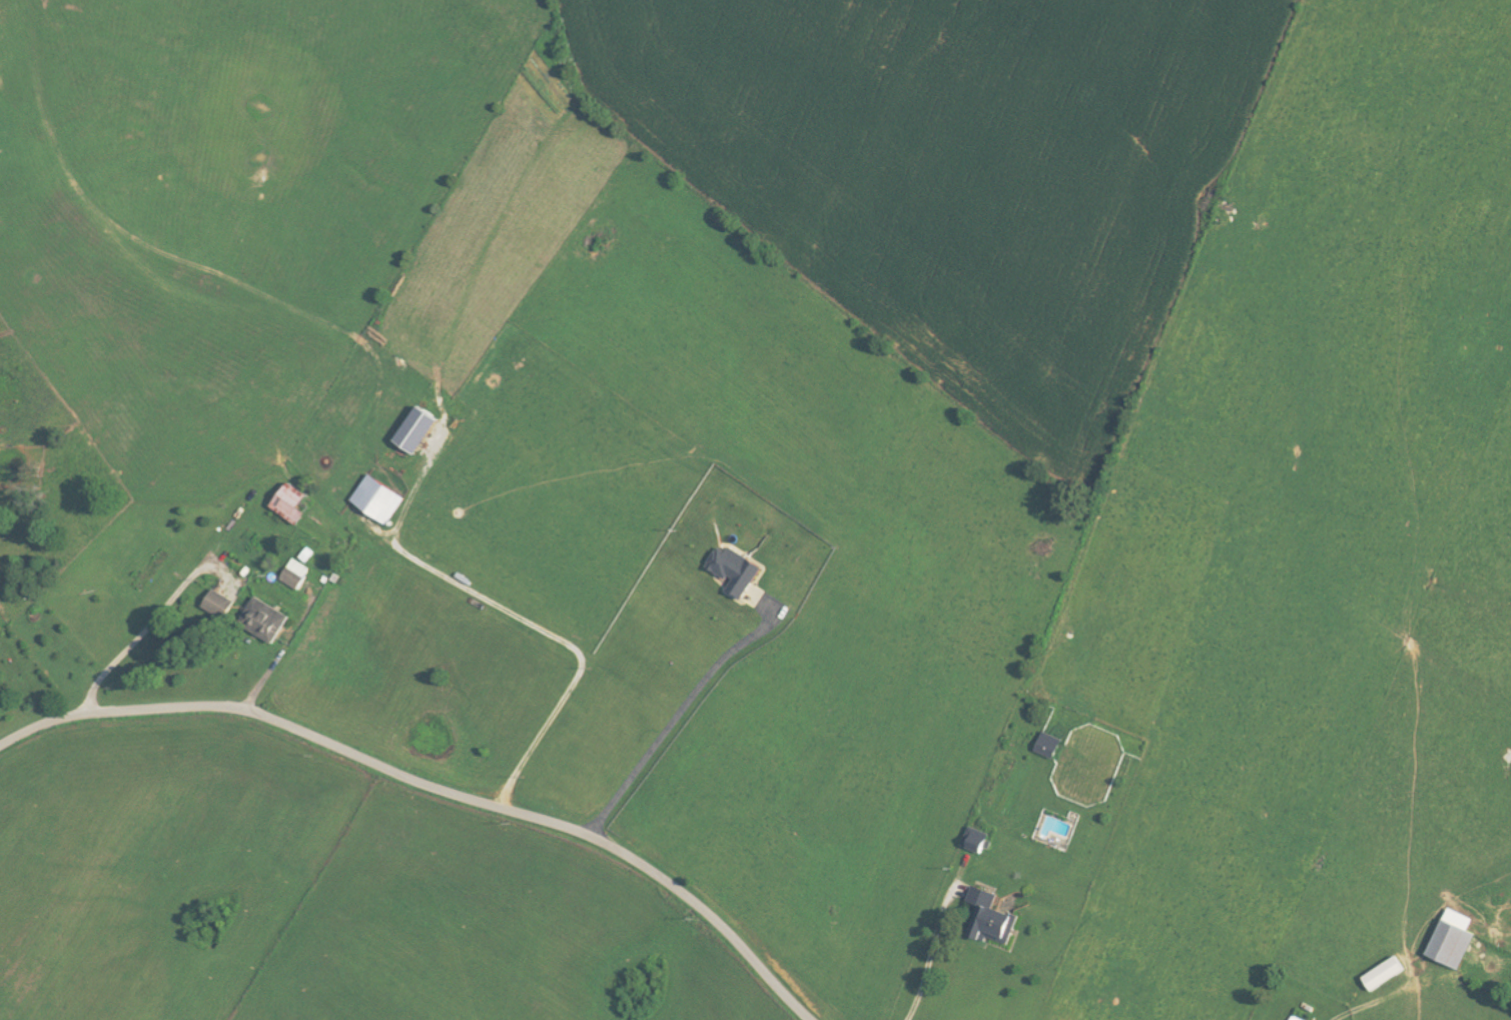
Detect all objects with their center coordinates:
building: (420, 430)
building: (381, 500)
building: (293, 504)
building: (738, 570)
building: (296, 574)
building: (220, 604)
building: (266, 620)
road: (148, 628)
road: (570, 645)
road: (259, 687)
road: (673, 718)
building: (1051, 745)
road: (432, 787)
building: (979, 841)
building: (995, 916)
building: (1454, 938)
road: (931, 958)
building: (1298, 1018)

